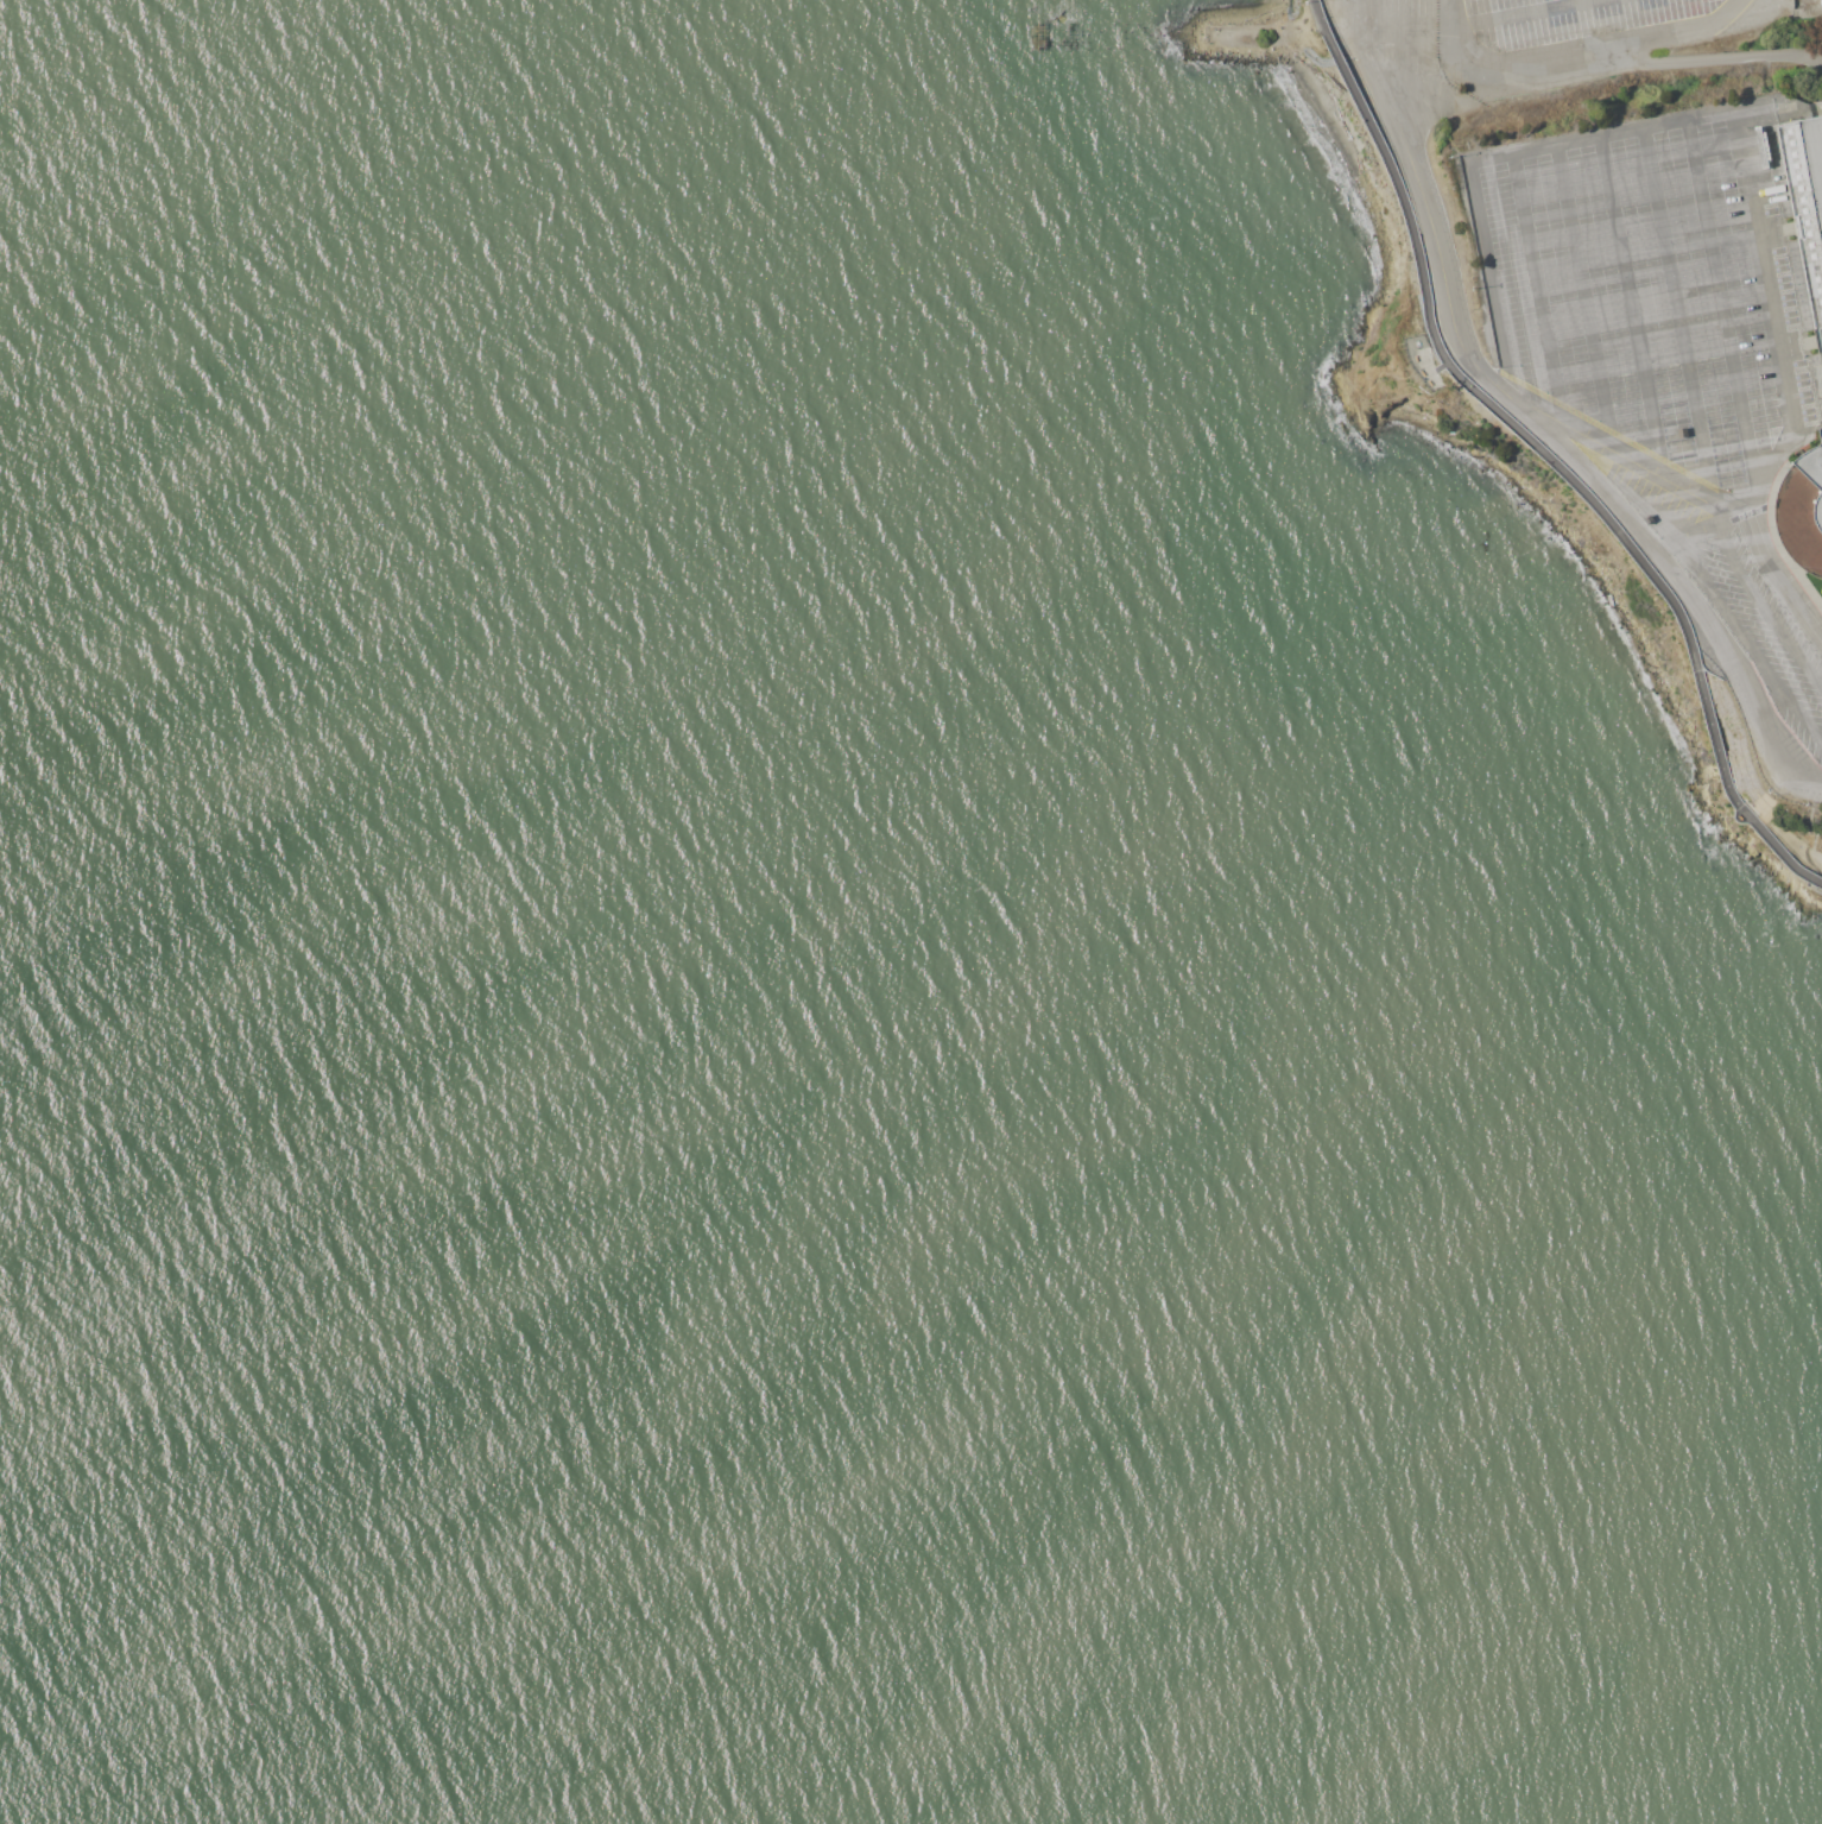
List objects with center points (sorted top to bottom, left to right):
road: (1518, 14)
parking lot: (1574, 20)
parking lot: (1386, 27)
road: (1429, 36)
road: (1450, 36)
road: (1358, 38)
road: (1573, 57)
road: (1685, 122)
building: (1807, 201)
road: (1434, 235)
road: (1535, 284)
road: (1583, 294)
road: (1628, 299)
road: (1721, 305)
road: (1677, 309)
road: (1450, 367)
parking lot: (1670, 373)
building: (1821, 431)
building: (1683, 433)
road: (1689, 481)
building: (1802, 512)
building: (1645, 513)
road: (1697, 524)
road: (1671, 578)
road: (1760, 607)
road: (1745, 642)
road: (1713, 740)
road: (1777, 847)
road: (1811, 860)

